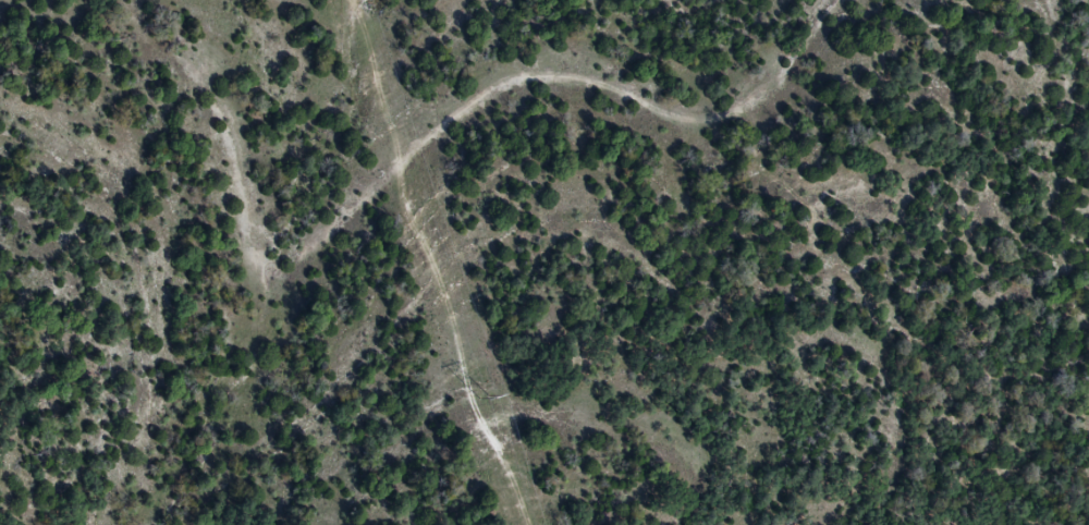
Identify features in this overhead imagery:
power tower: (479, 396)

